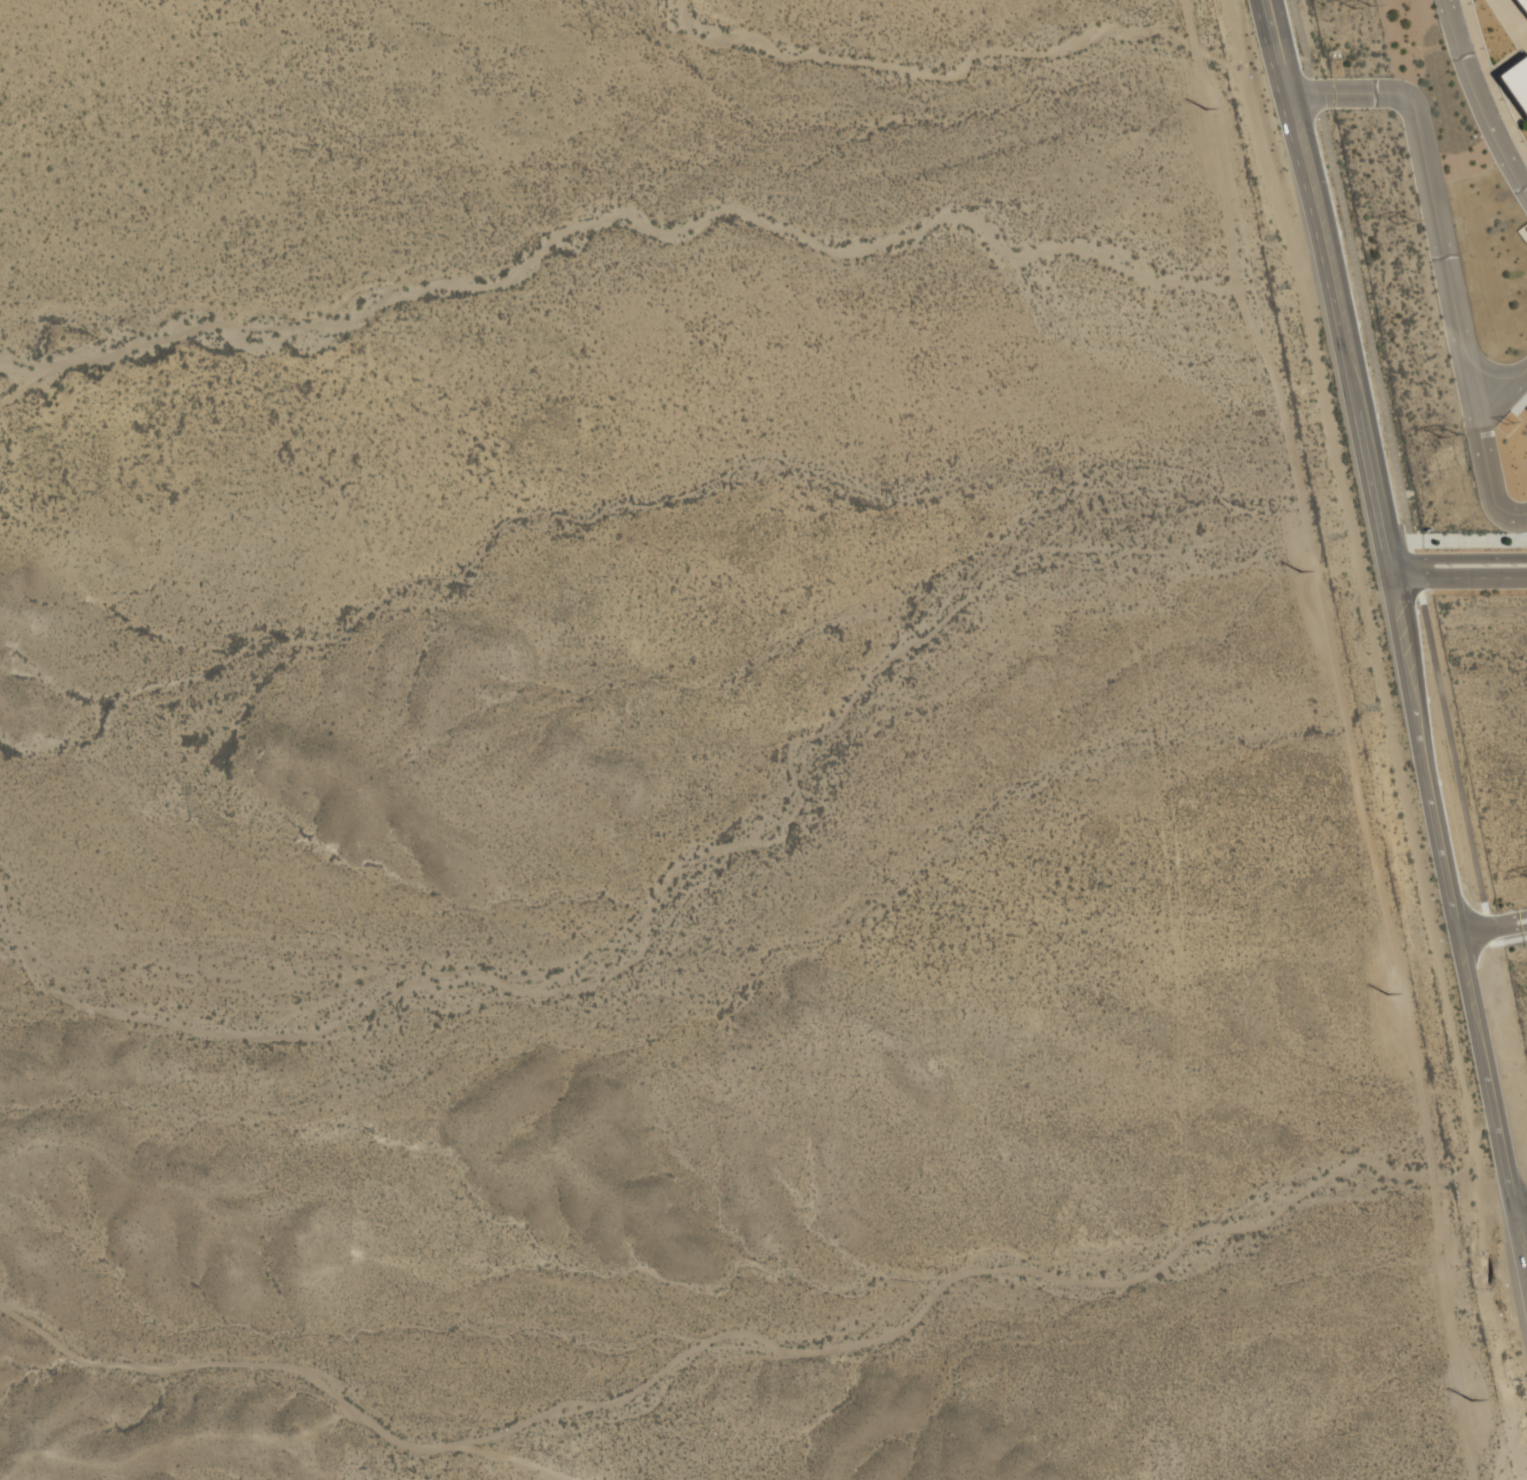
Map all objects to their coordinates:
building: (1523, 4)
power tower: (1361, 6)
building: (1517, 80)
road: (1478, 99)
power tower: (1206, 107)
road: (1431, 203)
power tower: (1405, 223)
power tower: (1509, 423)
power tower: (1450, 438)
road: (1482, 441)
road: (1393, 453)
road: (1456, 559)
power tower: (1302, 570)
road: (1458, 579)
road: (1400, 634)
road: (1493, 927)
power tower: (1389, 993)
road: (1520, 1200)
road: (1522, 1217)
power tower: (1473, 1398)

